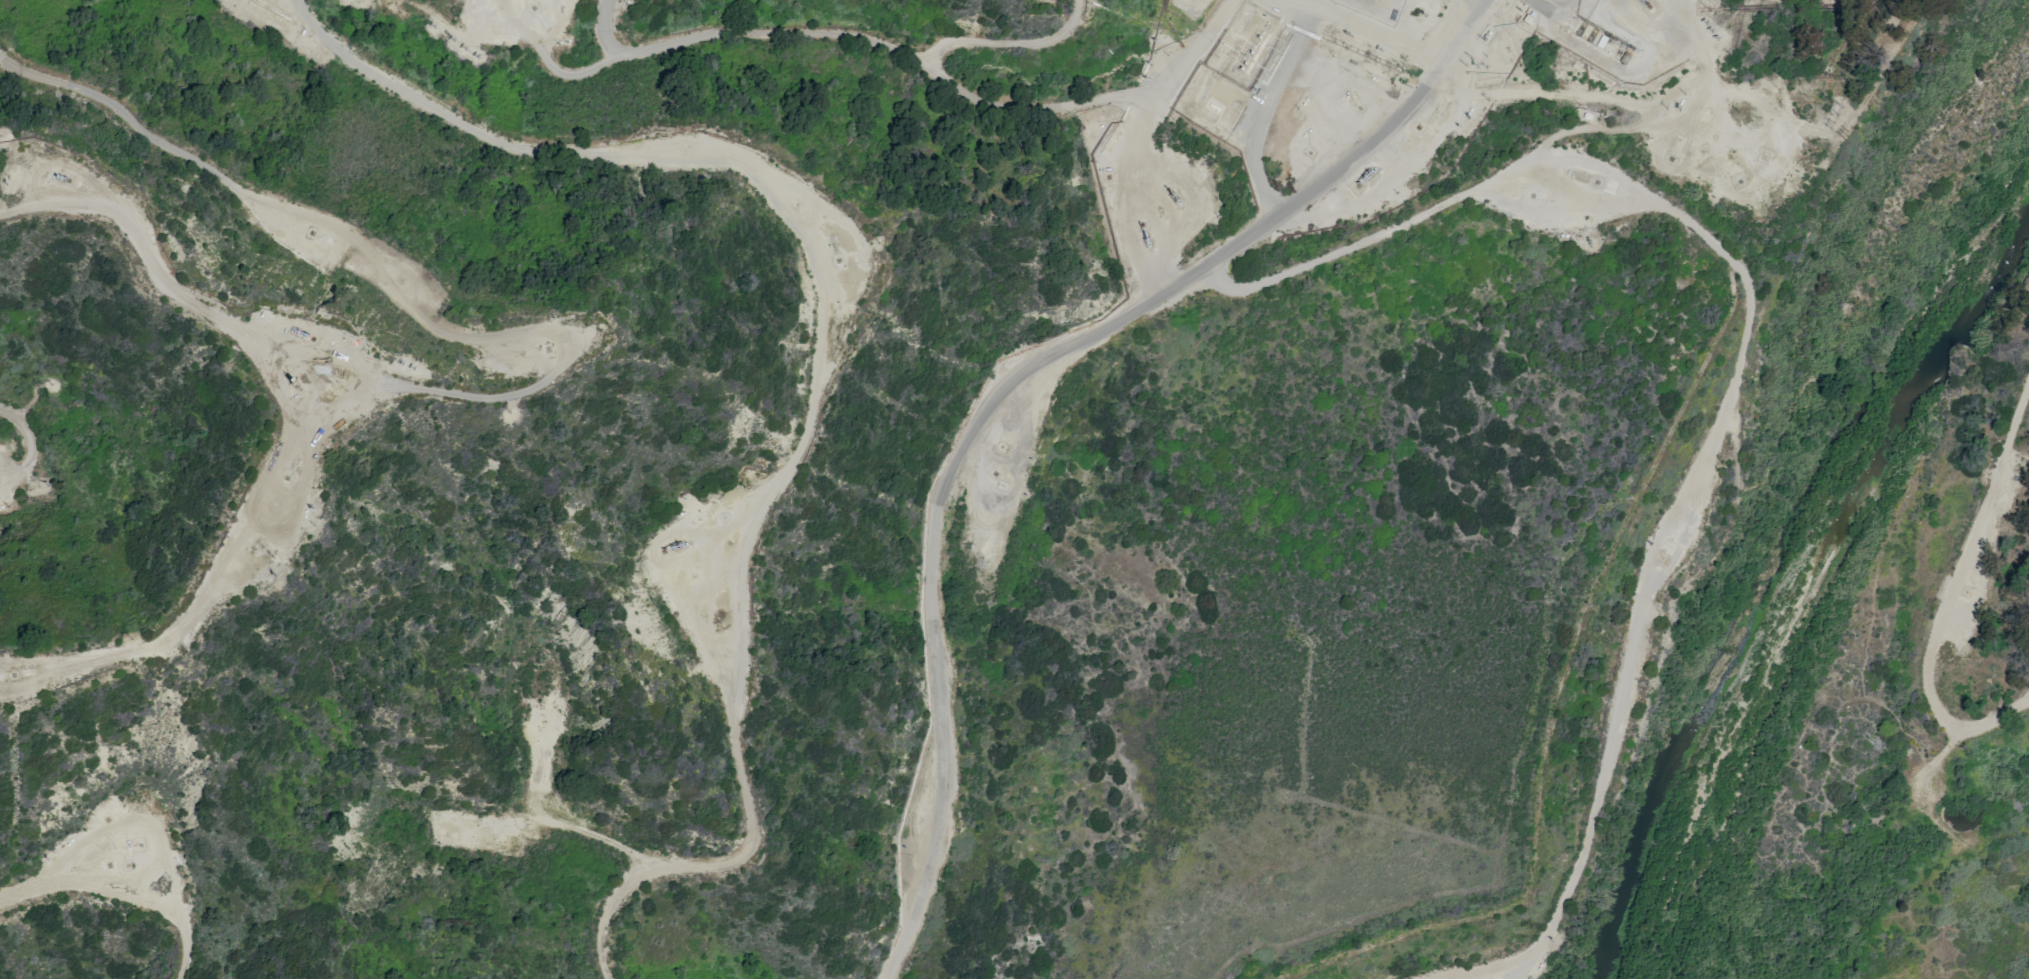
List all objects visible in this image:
road: (1293, 8)
road: (1293, 51)
road: (1351, 249)
road: (1020, 384)
river: (1791, 530)

